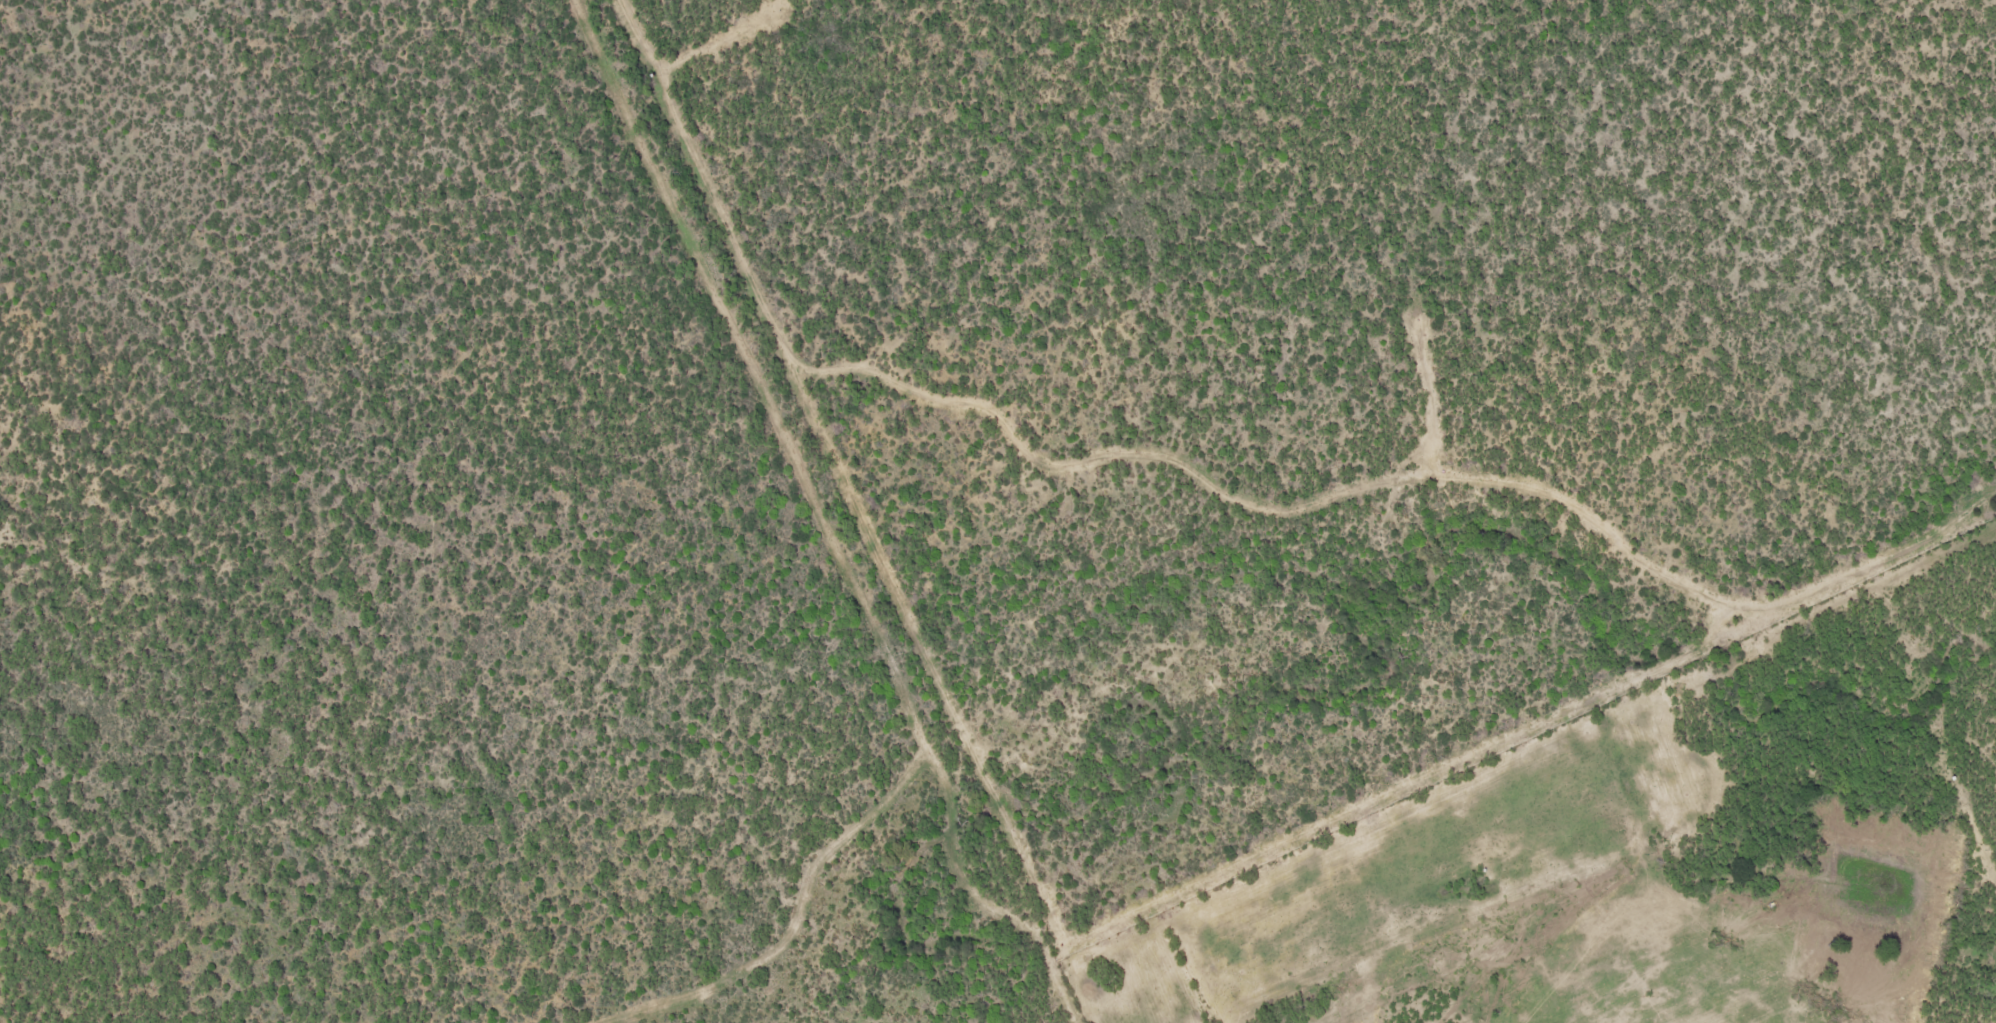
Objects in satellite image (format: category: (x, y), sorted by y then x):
road: (834, 515)

